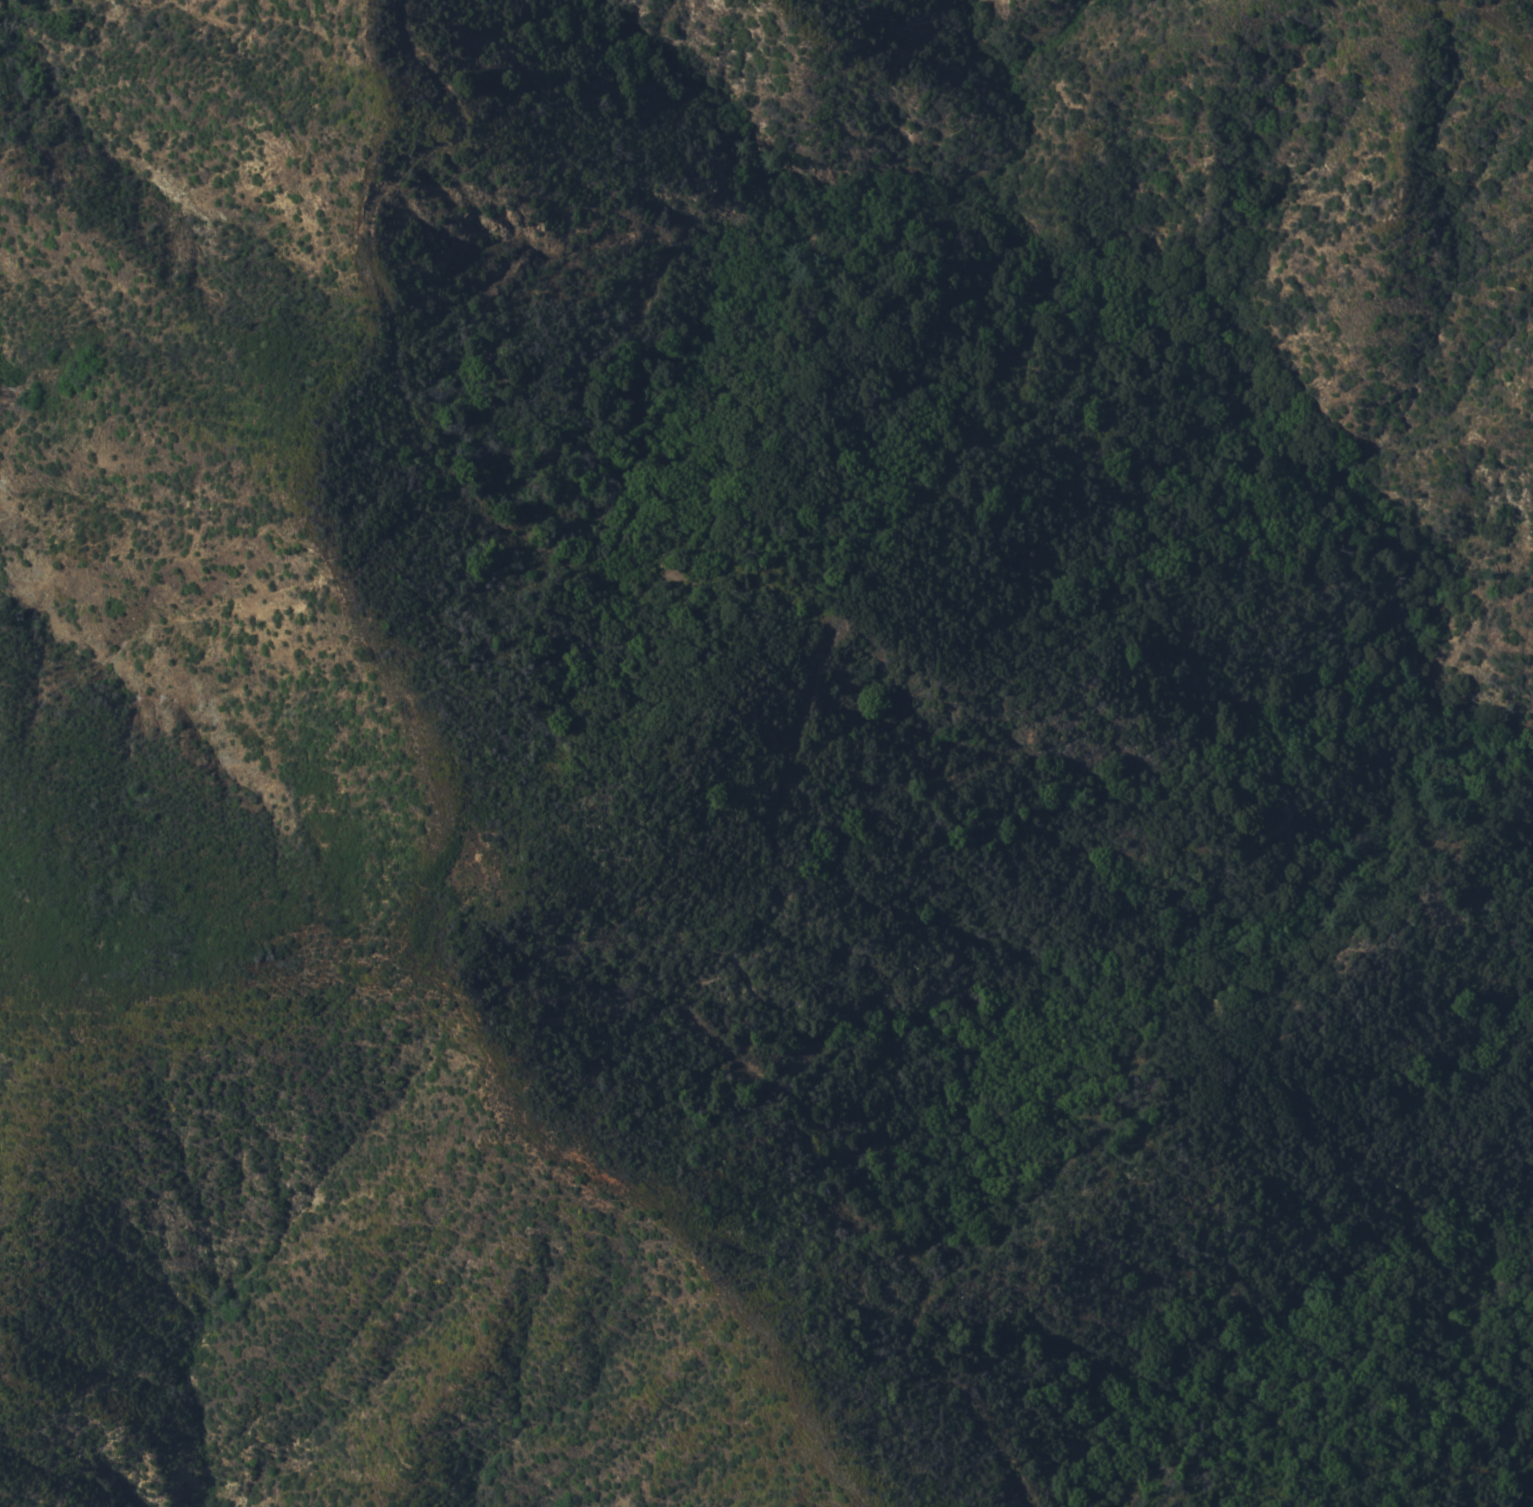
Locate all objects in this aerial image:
road: (1413, 129)

